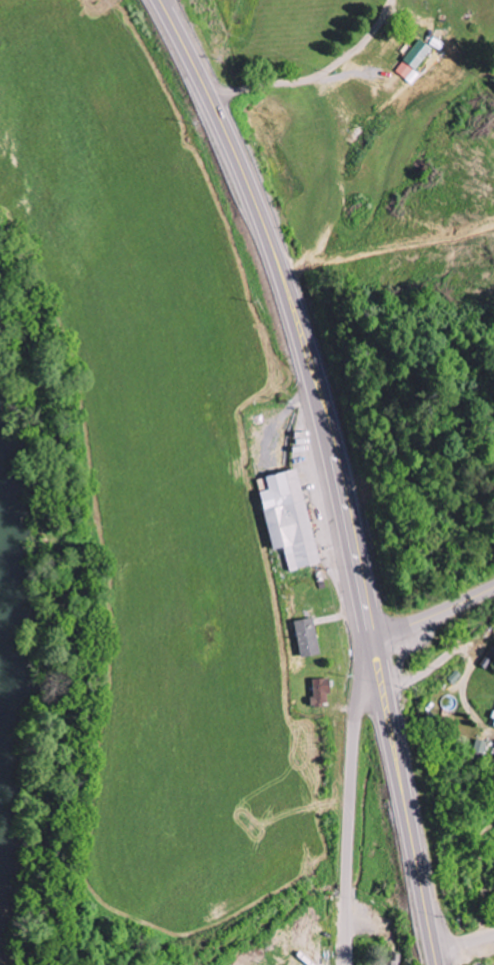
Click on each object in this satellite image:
road: (162, 3)
building: (416, 54)
road: (315, 75)
building: (392, 77)
road: (337, 470)
building: (286, 518)
road: (434, 614)
building: (305, 637)
road: (435, 664)
building: (319, 692)
road: (350, 817)
road: (462, 938)
building: (388, 962)

